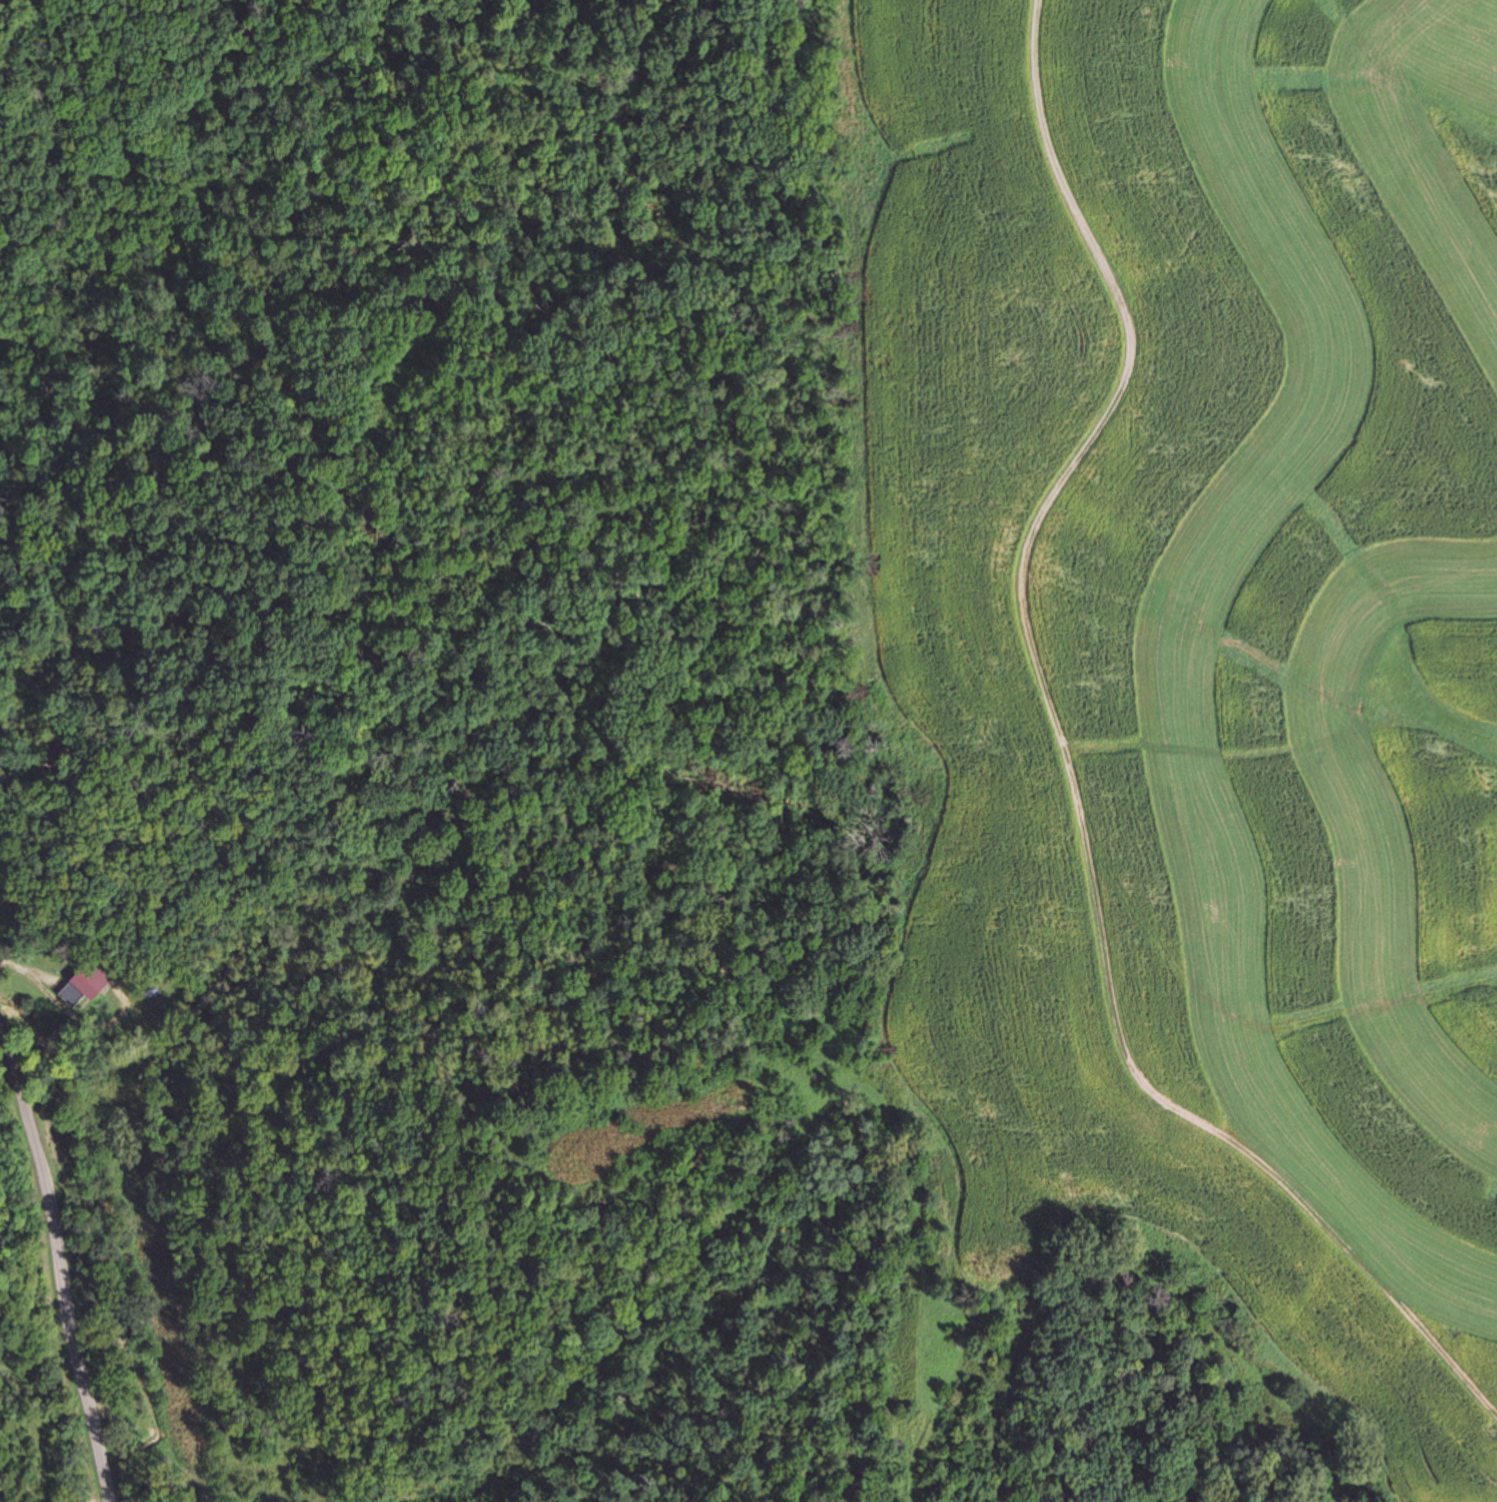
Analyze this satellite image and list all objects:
building: (81, 984)
road: (37, 1371)

